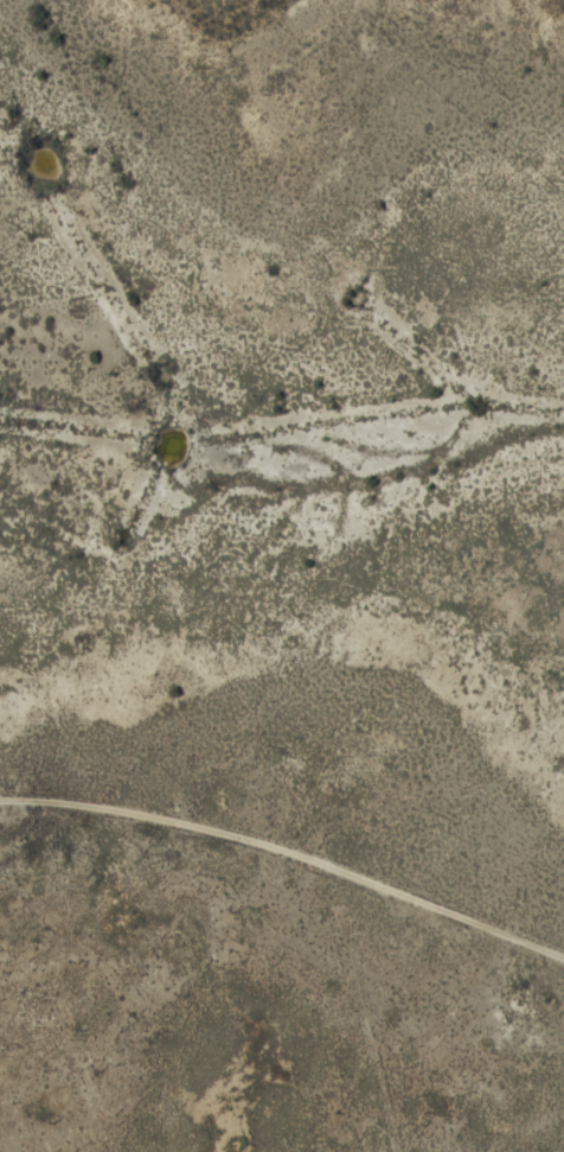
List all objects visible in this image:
road: (287, 867)

